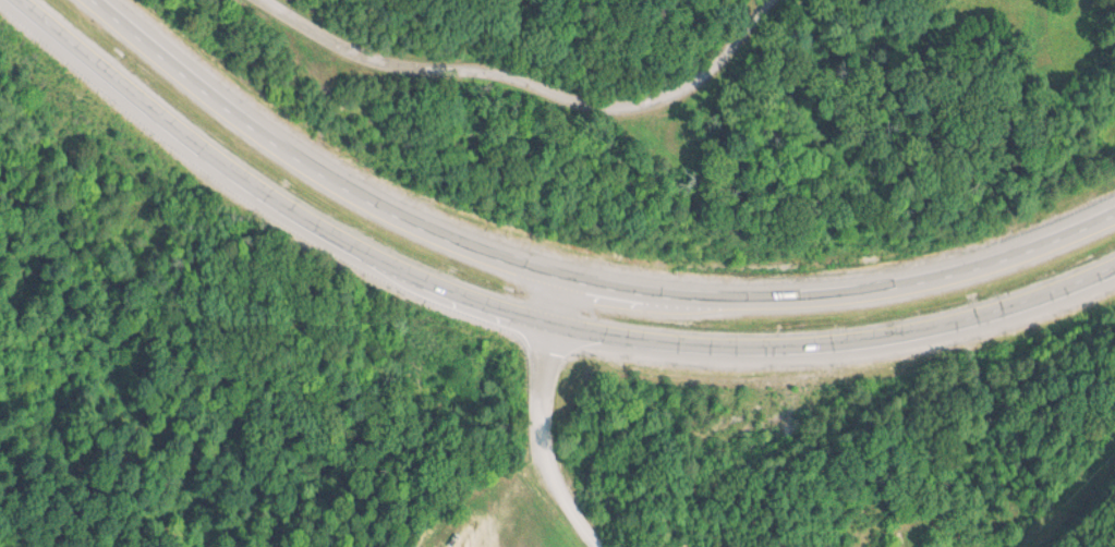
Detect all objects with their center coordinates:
road: (532, 88)
road: (567, 281)
road: (522, 316)
road: (538, 421)

